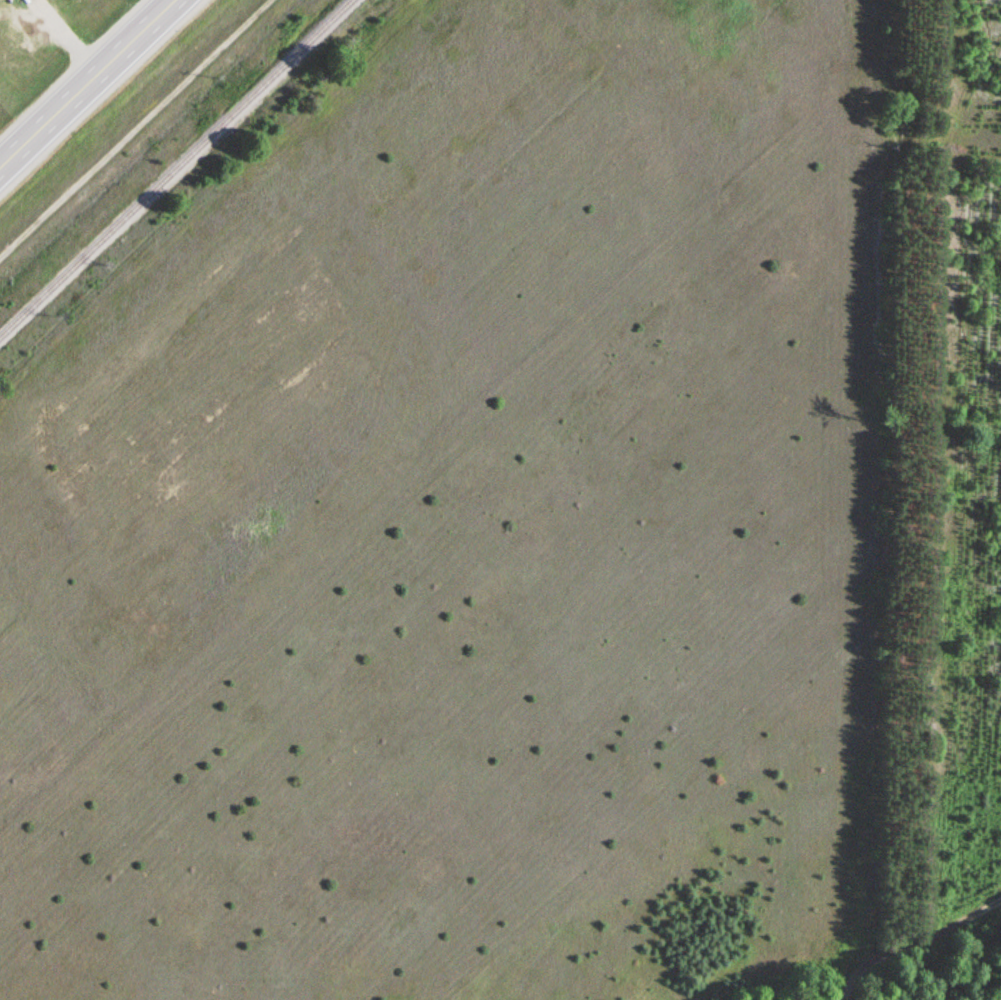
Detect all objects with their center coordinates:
road: (86, 83)
road: (136, 132)
railway: (178, 172)
road: (913, 941)

